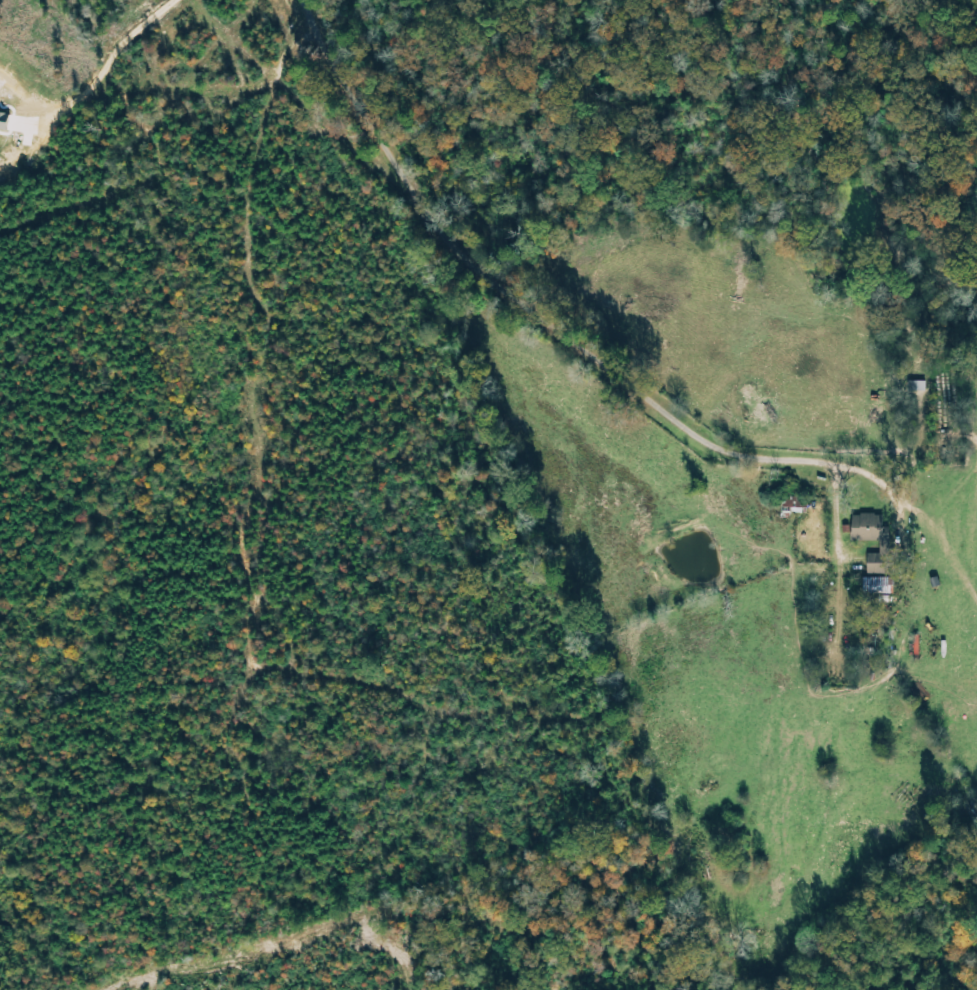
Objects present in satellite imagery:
road: (112, 54)
road: (25, 97)
building: (5, 121)
road: (27, 138)
road: (524, 302)
road: (887, 483)
building: (881, 565)

